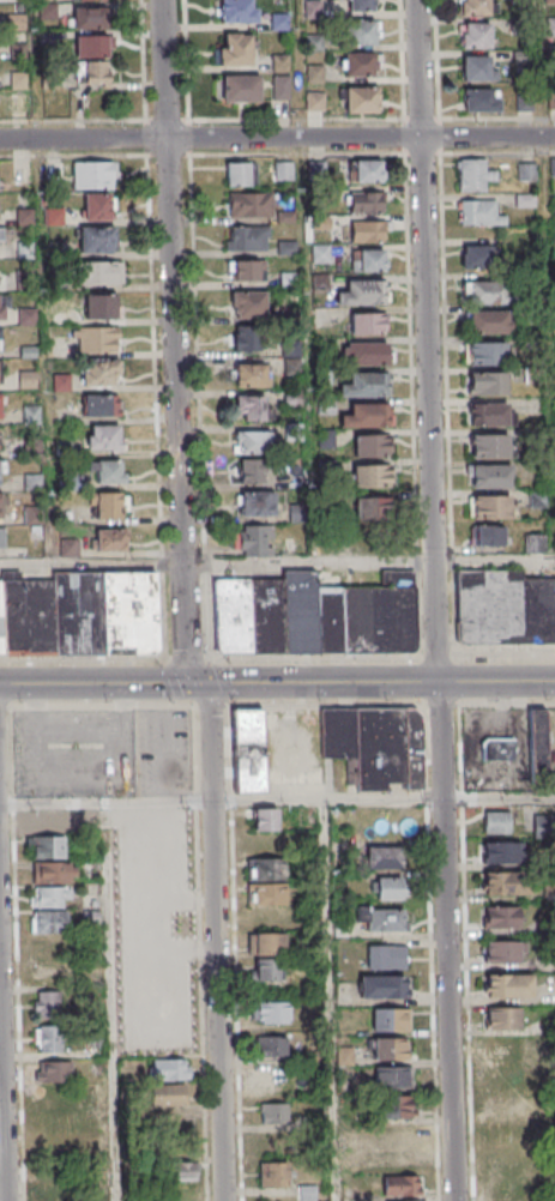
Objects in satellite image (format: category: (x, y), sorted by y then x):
building: (14, 0)
building: (361, 5)
building: (473, 7)
building: (239, 11)
building: (89, 17)
building: (363, 31)
building: (475, 34)
building: (91, 46)
building: (235, 48)
building: (358, 64)
building: (475, 68)
building: (93, 73)
building: (239, 87)
building: (280, 87)
building: (361, 99)
building: (481, 99)
building: (314, 101)
building: (19, 102)
road: (277, 138)
building: (54, 170)
building: (284, 170)
building: (367, 170)
building: (526, 171)
building: (237, 173)
building: (91, 174)
building: (473, 174)
building: (364, 201)
building: (251, 204)
building: (97, 206)
building: (479, 212)
building: (367, 230)
building: (0, 234)
building: (247, 237)
building: (97, 240)
building: (320, 254)
building: (475, 255)
building: (368, 259)
building: (243, 268)
building: (103, 272)
building: (364, 291)
building: (485, 291)
building: (247, 304)
building: (99, 306)
building: (2, 307)
building: (490, 321)
building: (367, 322)
building: (247, 338)
building: (97, 339)
road: (173, 343)
building: (367, 352)
building: (487, 352)
building: (99, 372)
building: (251, 374)
building: (364, 384)
building: (487, 384)
building: (0, 405)
building: (99, 405)
building: (251, 406)
building: (488, 414)
building: (368, 415)
building: (104, 436)
building: (326, 439)
building: (252, 440)
building: (372, 445)
building: (490, 445)
building: (107, 470)
building: (252, 470)
building: (1, 472)
building: (295, 473)
building: (372, 475)
building: (490, 476)
building: (537, 499)
building: (259, 502)
building: (108, 505)
building: (491, 506)
building: (370, 508)
building: (297, 512)
building: (488, 535)
building: (1, 537)
building: (109, 539)
building: (253, 539)
building: (535, 542)
road: (277, 562)
road: (433, 600)
building: (506, 606)
building: (79, 614)
building: (314, 615)
road: (277, 656)
road: (379, 682)
road: (102, 683)
traffic signals: (204, 683)
road: (277, 705)
building: (340, 738)
building: (537, 747)
building: (380, 748)
building: (414, 748)
building: (497, 748)
building: (248, 749)
parking lot: (168, 753)
parking lot: (79, 754)
road: (277, 803)
building: (47, 821)
building: (495, 821)
building: (542, 826)
building: (266, 832)
building: (48, 846)
building: (500, 852)
building: (384, 857)
building: (266, 868)
building: (52, 871)
building: (505, 882)
building: (387, 888)
building: (266, 893)
building: (50, 897)
building: (500, 916)
building: (381, 919)
building: (49, 922)
road: (219, 940)
building: (265, 943)
building: (502, 950)
road: (432, 952)
road: (466, 952)
building: (386, 956)
building: (266, 970)
building: (46, 971)
building: (382, 985)
building: (508, 985)
road: (333, 1002)
building: (44, 1003)
road: (115, 1003)
building: (272, 1012)
building: (502, 1018)
building: (390, 1019)
building: (47, 1039)
building: (273, 1045)
building: (503, 1046)
building: (391, 1049)
building: (165, 1068)
building: (49, 1072)
building: (505, 1074)
building: (393, 1076)
building: (273, 1080)
building: (168, 1094)
building: (396, 1105)
building: (273, 1112)
road: (1, 1134)
building: (392, 1134)
building: (182, 1171)
building: (273, 1173)
building: (503, 1183)
building: (400, 1184)
building: (307, 1193)
building: (505, 1200)

